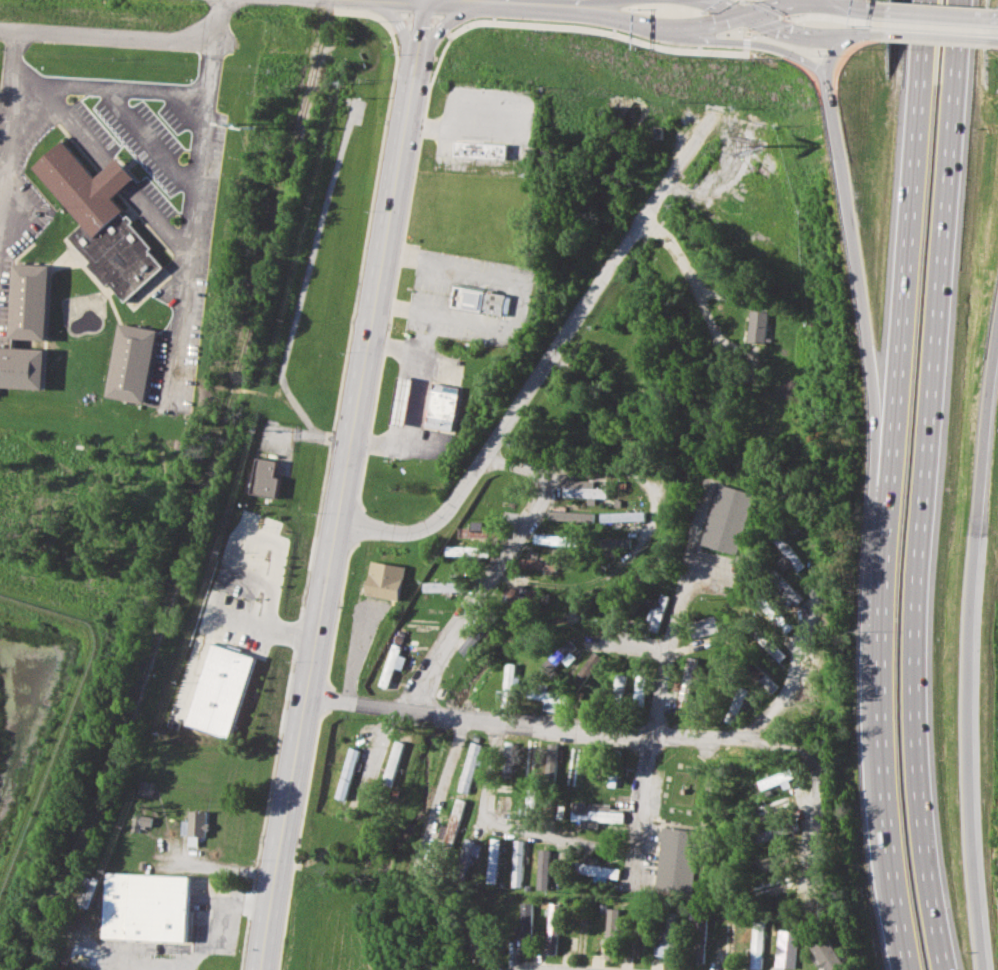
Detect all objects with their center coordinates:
road: (558, 1)
road: (587, 1)
road: (838, 3)
road: (792, 4)
road: (863, 8)
road: (937, 14)
traffic signals: (744, 16)
road: (994, 17)
street lamp: (367, 22)
road: (442, 22)
road: (660, 27)
road: (777, 28)
road: (397, 30)
street lamp: (485, 33)
road: (122, 34)
road: (416, 34)
road: (868, 34)
road: (935, 37)
road: (993, 41)
road: (757, 44)
street lamp: (865, 50)
river: (636, 51)
street lamp: (680, 54)
road: (833, 55)
street lamp: (759, 57)
street lamp: (439, 68)
road: (108, 87)
street lamp: (811, 90)
road: (8, 105)
road: (75, 124)
road: (147, 142)
building: (483, 153)
river: (604, 168)
road: (117, 175)
road: (192, 207)
building: (100, 218)
road: (157, 220)
river: (623, 255)
road: (901, 265)
building: (481, 301)
road: (519, 304)
road: (858, 306)
building: (756, 326)
building: (26, 328)
road: (430, 333)
road: (546, 360)
building: (130, 364)
road: (419, 398)
building: (401, 401)
building: (442, 406)
road: (618, 473)
building: (264, 477)
road: (920, 485)
building: (581, 488)
railway: (200, 491)
building: (570, 516)
building: (623, 516)
road: (338, 519)
building: (726, 519)
building: (553, 539)
building: (618, 542)
road: (281, 544)
building: (465, 551)
building: (788, 554)
building: (538, 562)
road: (501, 563)
building: (384, 579)
building: (442, 586)
building: (790, 592)
building: (515, 595)
building: (656, 613)
building: (702, 626)
river: (584, 633)
road: (967, 639)
building: (469, 644)
building: (770, 645)
building: (560, 656)
road: (662, 659)
road: (875, 663)
building: (391, 664)
building: (587, 669)
building: (757, 672)
building: (686, 682)
building: (508, 683)
building: (618, 685)
building: (639, 687)
building: (219, 690)
building: (547, 698)
building: (734, 707)
road: (523, 719)
road: (752, 739)
building: (551, 760)
building: (394, 762)
building: (528, 762)
building: (507, 766)
building: (470, 767)
building: (571, 767)
building: (346, 773)
building: (777, 780)
road: (638, 804)
building: (504, 805)
building: (775, 805)
building: (593, 813)
building: (141, 821)
building: (452, 824)
building: (196, 826)
road: (507, 827)
building: (773, 832)
building: (469, 851)
building: (768, 859)
building: (493, 860)
building: (676, 860)
building: (517, 863)
road: (219, 866)
building: (542, 868)
building: (593, 868)
road: (885, 883)
building: (773, 885)
building: (145, 906)
road: (219, 923)
building: (525, 926)
building: (552, 928)
building: (611, 933)
building: (667, 939)
building: (756, 948)
building: (786, 948)
building: (825, 953)
road: (116, 966)

